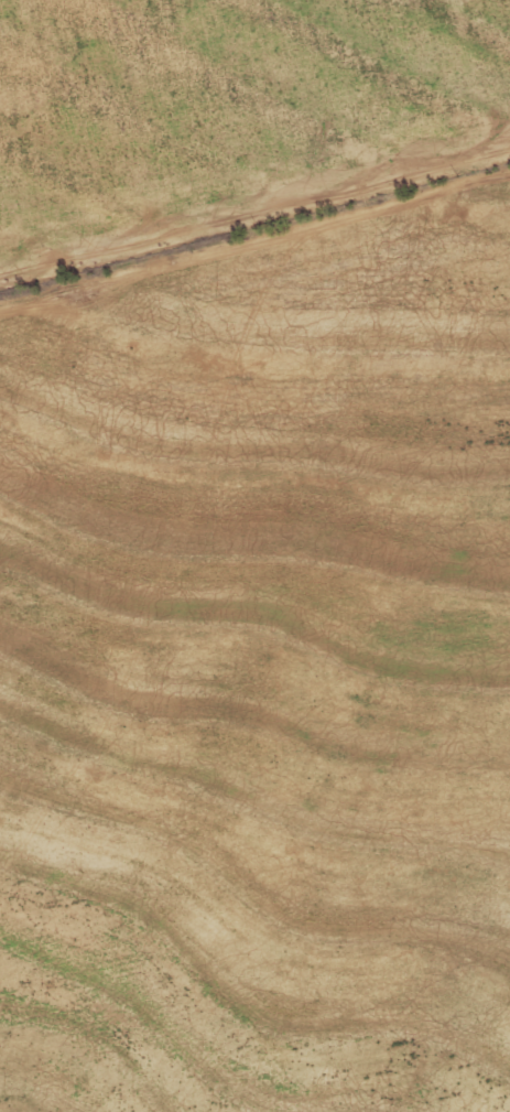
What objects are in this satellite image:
road: (254, 222)

